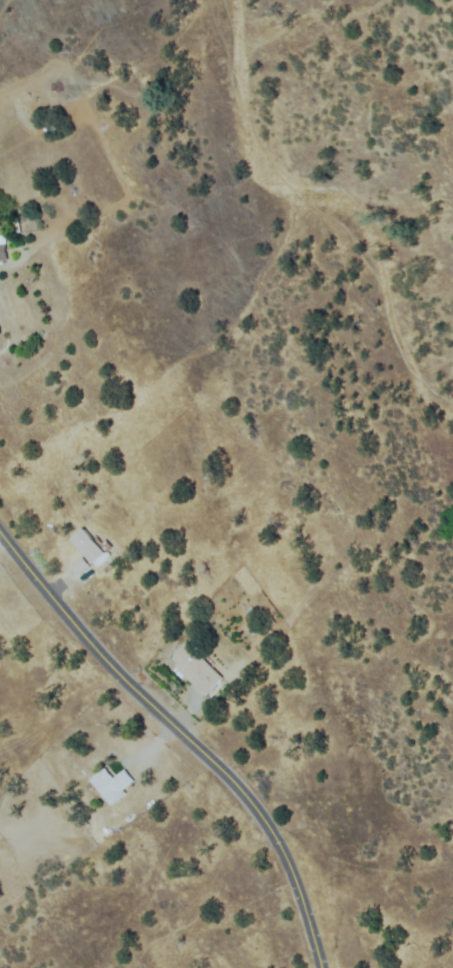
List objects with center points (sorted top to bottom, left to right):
building: (3, 244)
building: (89, 546)
building: (81, 566)
building: (197, 669)
road: (182, 736)
building: (112, 784)

